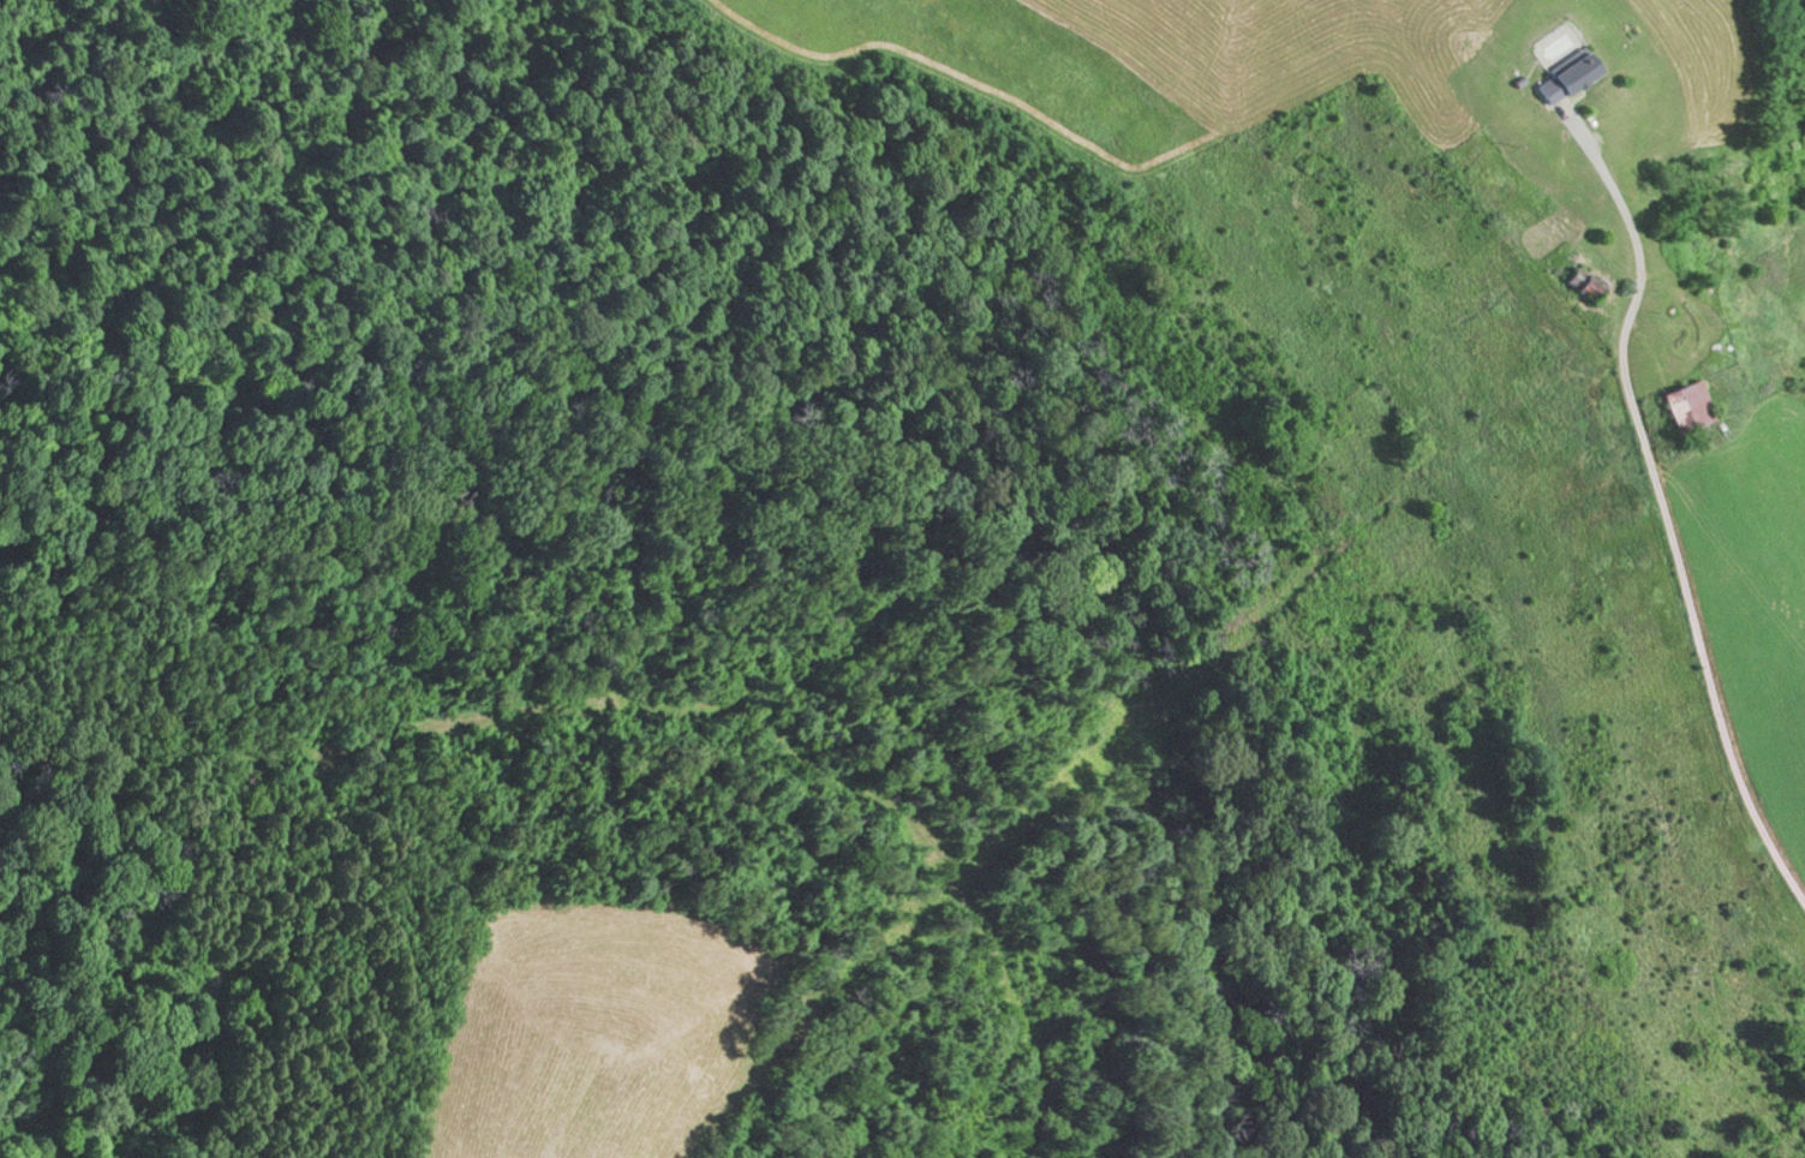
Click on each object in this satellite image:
building: (1566, 77)
building: (1584, 282)
building: (1687, 406)

